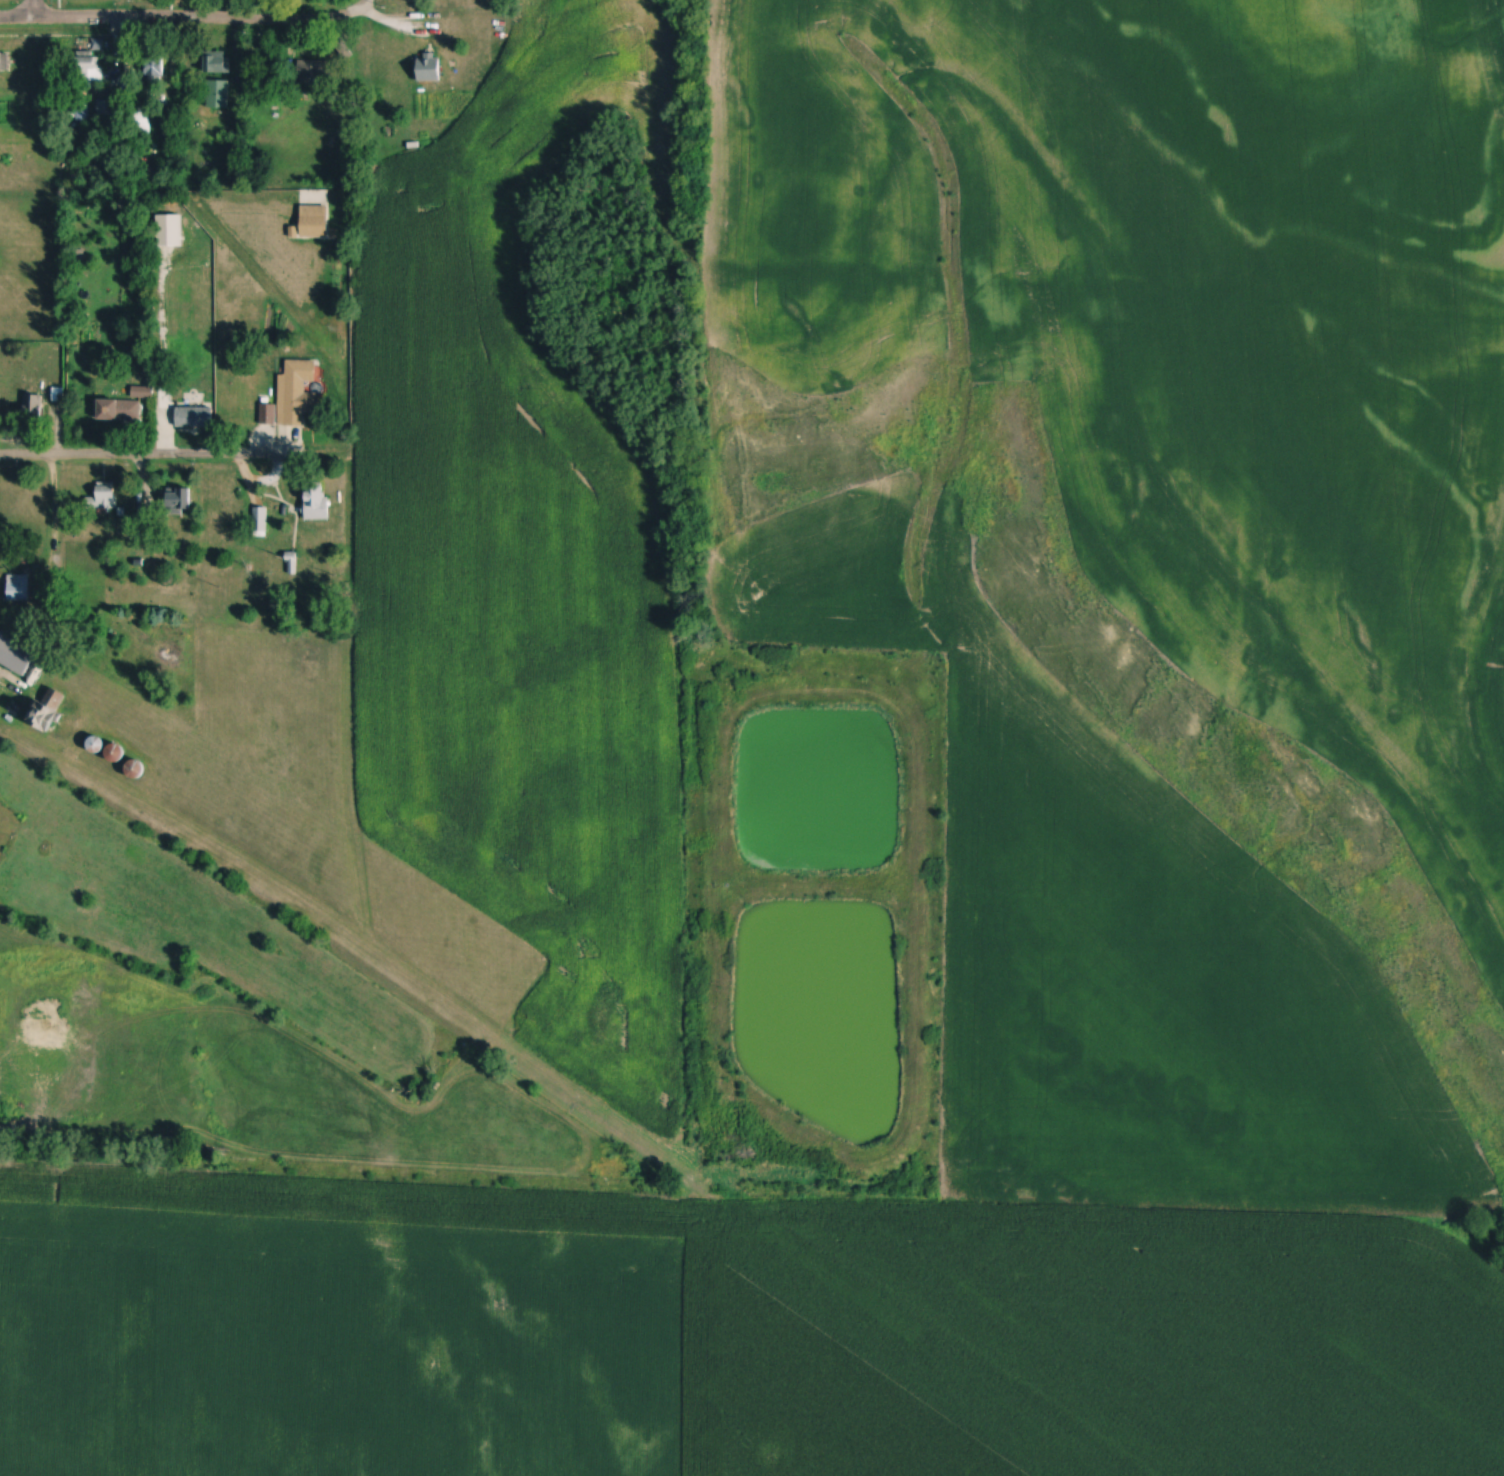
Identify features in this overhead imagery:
road: (35, 10)
road: (182, 18)
building: (3, 64)
building: (220, 69)
building: (427, 69)
building: (85, 70)
building: (155, 70)
building: (219, 96)
building: (147, 117)
building: (314, 223)
road: (158, 357)
building: (143, 392)
building: (298, 393)
building: (165, 399)
building: (33, 407)
building: (118, 409)
road: (115, 452)
road: (274, 466)
building: (105, 495)
building: (178, 500)
building: (317, 503)
road: (49, 518)
building: (260, 522)
building: (18, 588)
building: (47, 712)

